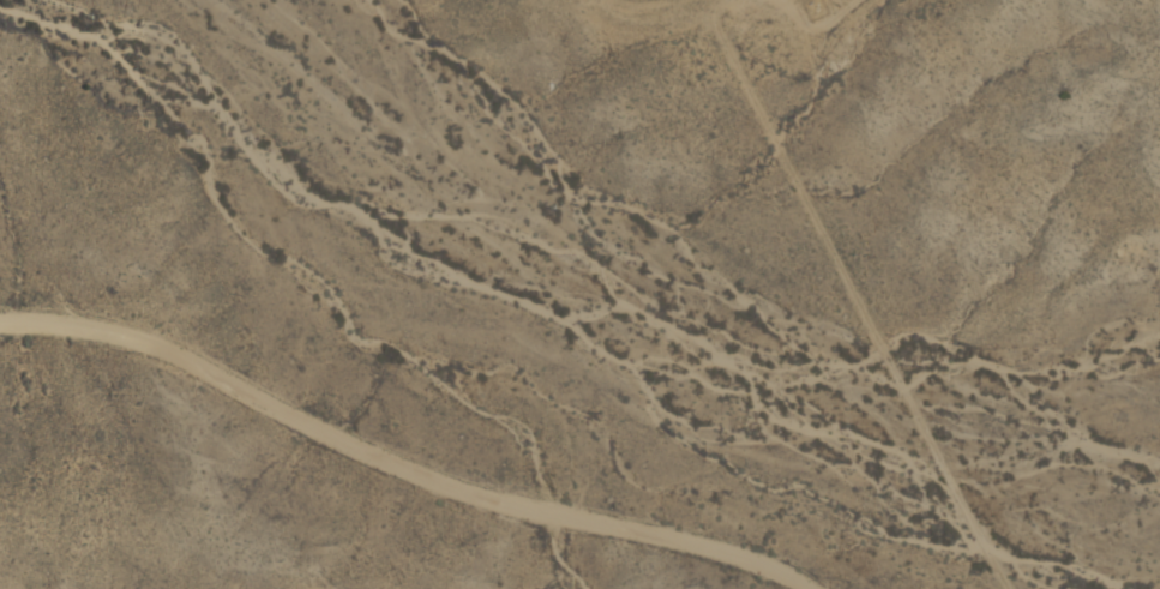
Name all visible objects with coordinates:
road: (405, 471)

